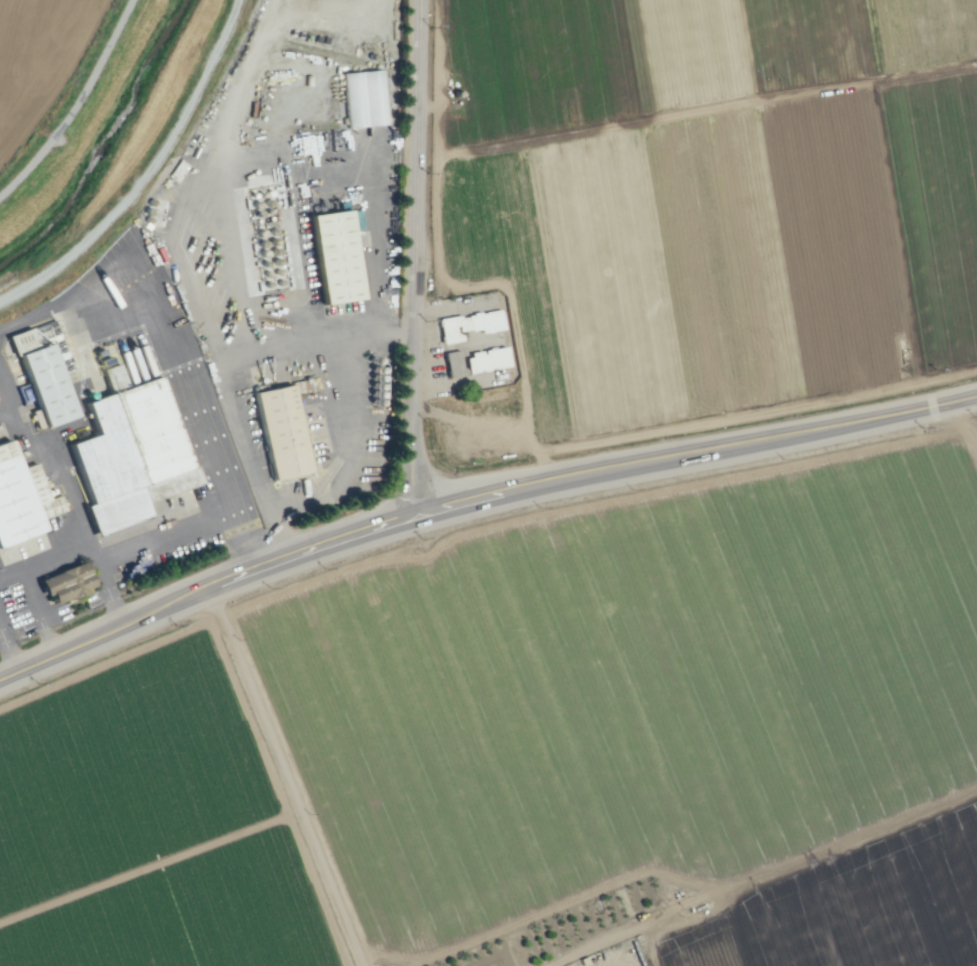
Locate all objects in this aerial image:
crop: (35, 54)
building: (363, 98)
road: (74, 103)
crop: (55, 216)
road: (417, 258)
building: (335, 260)
building: (467, 324)
building: (22, 340)
road: (178, 352)
building: (486, 360)
building: (452, 363)
road: (225, 369)
building: (46, 384)
building: (286, 434)
road: (352, 445)
building: (136, 469)
road: (72, 492)
building: (22, 498)
road: (476, 503)
crop: (589, 548)
building: (65, 582)
road: (28, 584)
road: (287, 783)

